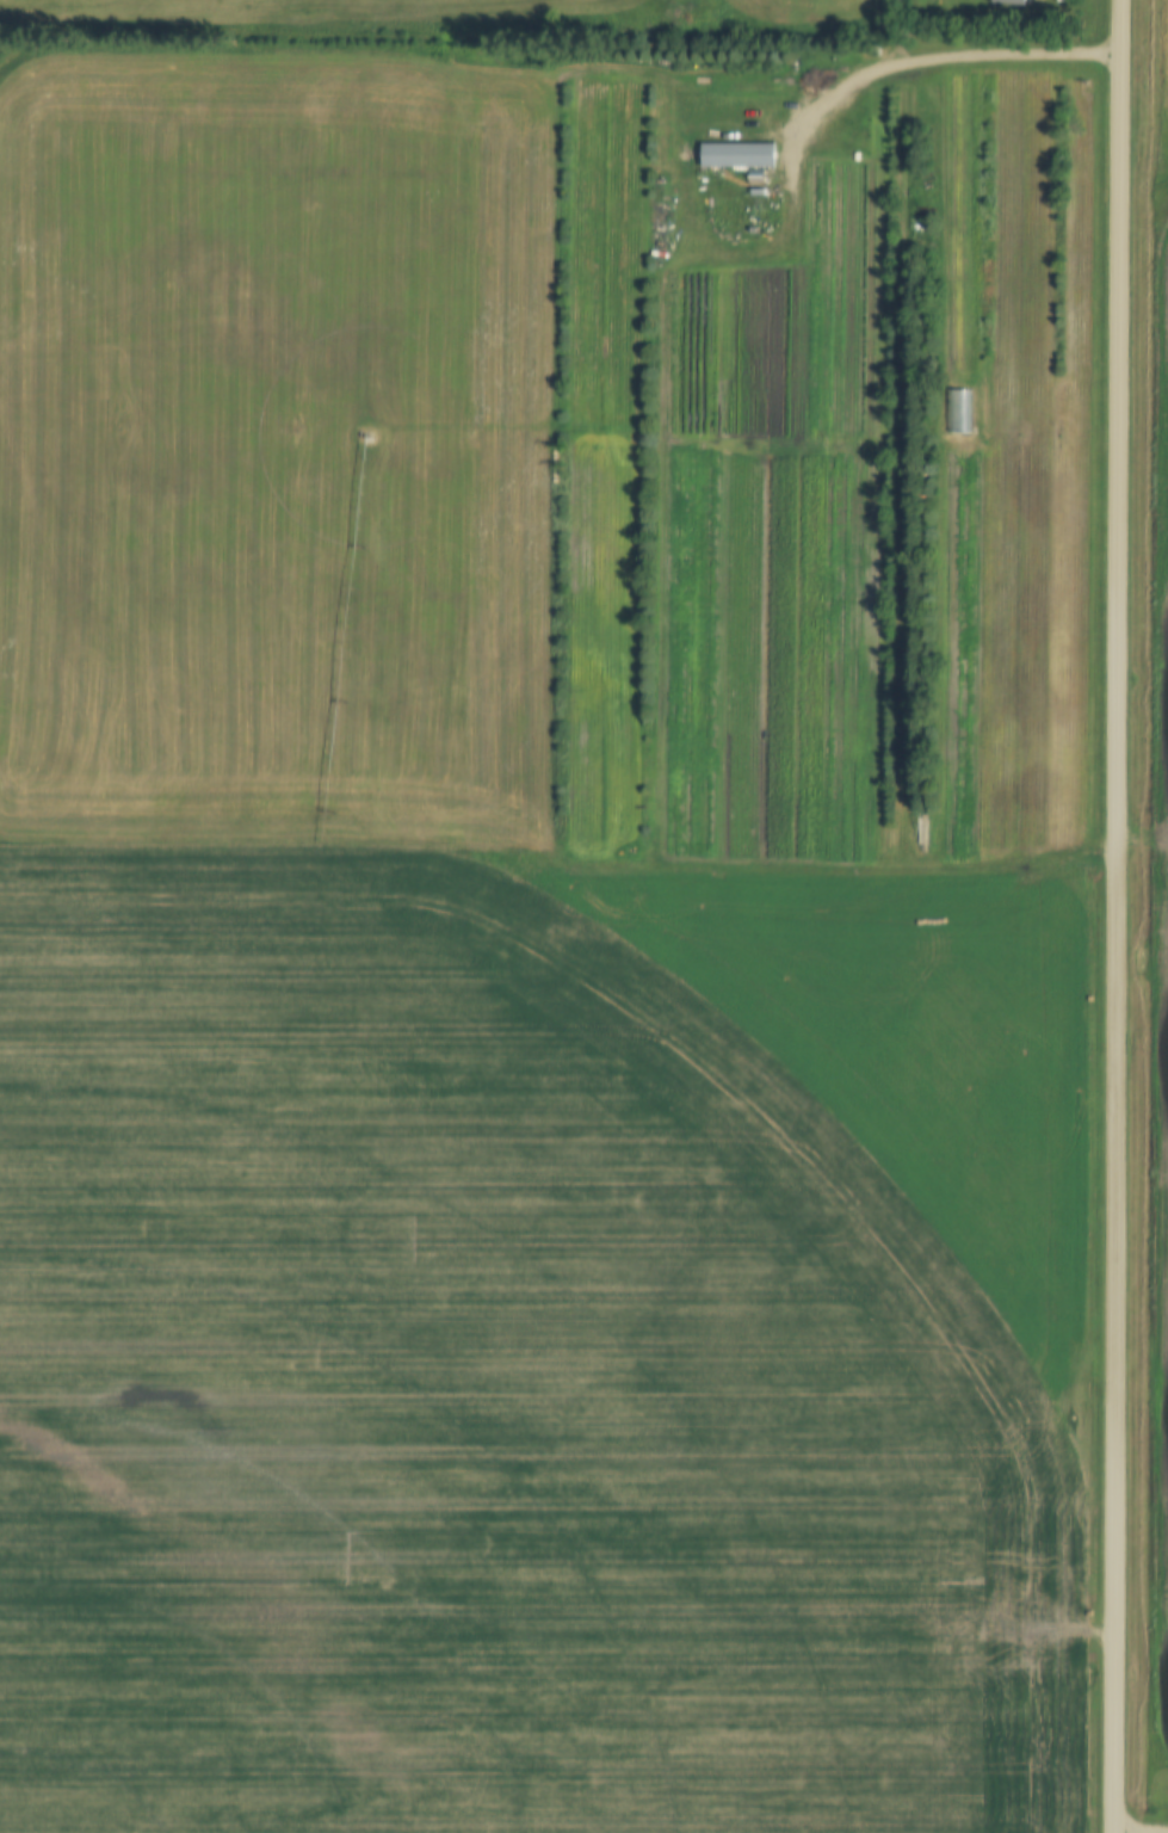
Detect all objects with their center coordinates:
building: (1008, 2)
road: (929, 63)
building: (736, 156)
building: (954, 411)
road: (1120, 915)
road: (1142, 1829)

